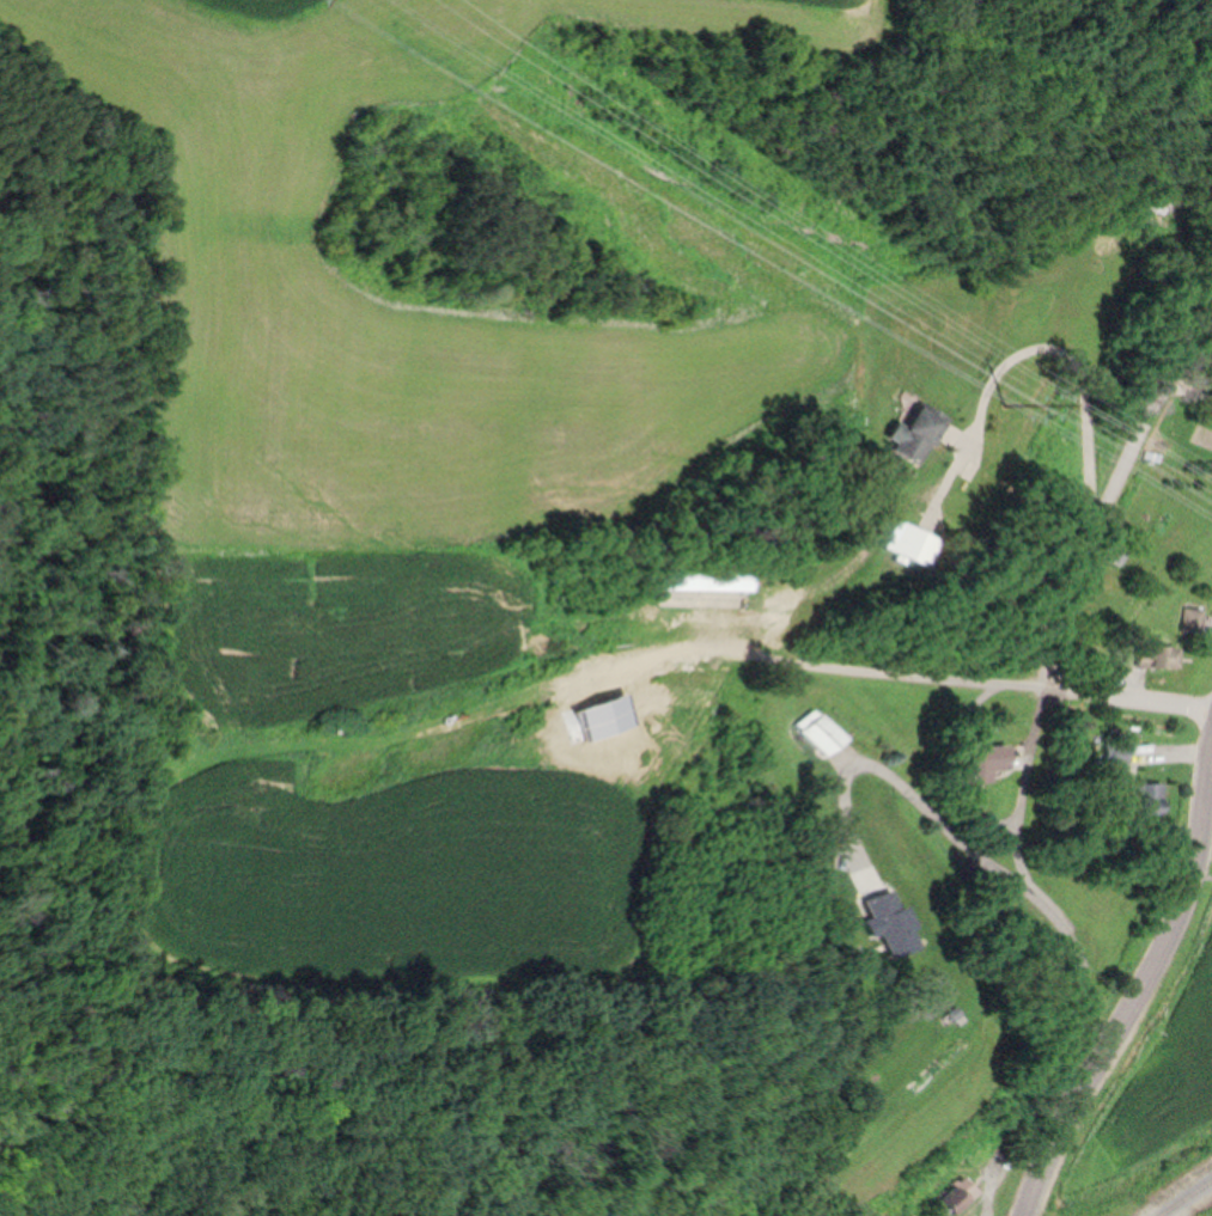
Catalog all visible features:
power tower: (1010, 398)
building: (922, 434)
building: (919, 546)
building: (708, 583)
road: (1082, 585)
building: (1194, 618)
building: (1162, 658)
road: (882, 676)
building: (824, 731)
building: (986, 760)
road: (962, 764)
road: (916, 794)
building: (1149, 798)
road: (1046, 885)
building: (897, 922)
road: (1144, 985)
building: (964, 1196)
railway: (1186, 1199)

